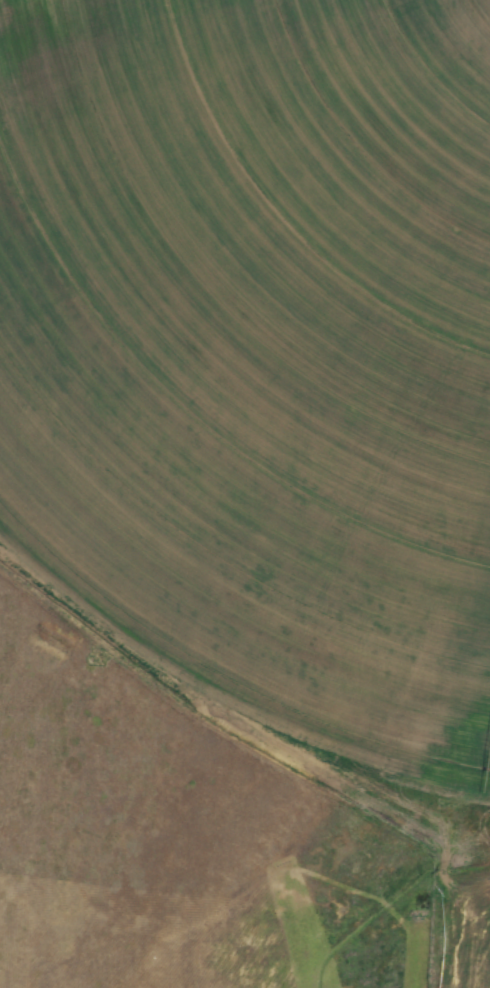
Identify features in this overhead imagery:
crop: (165, 852)

